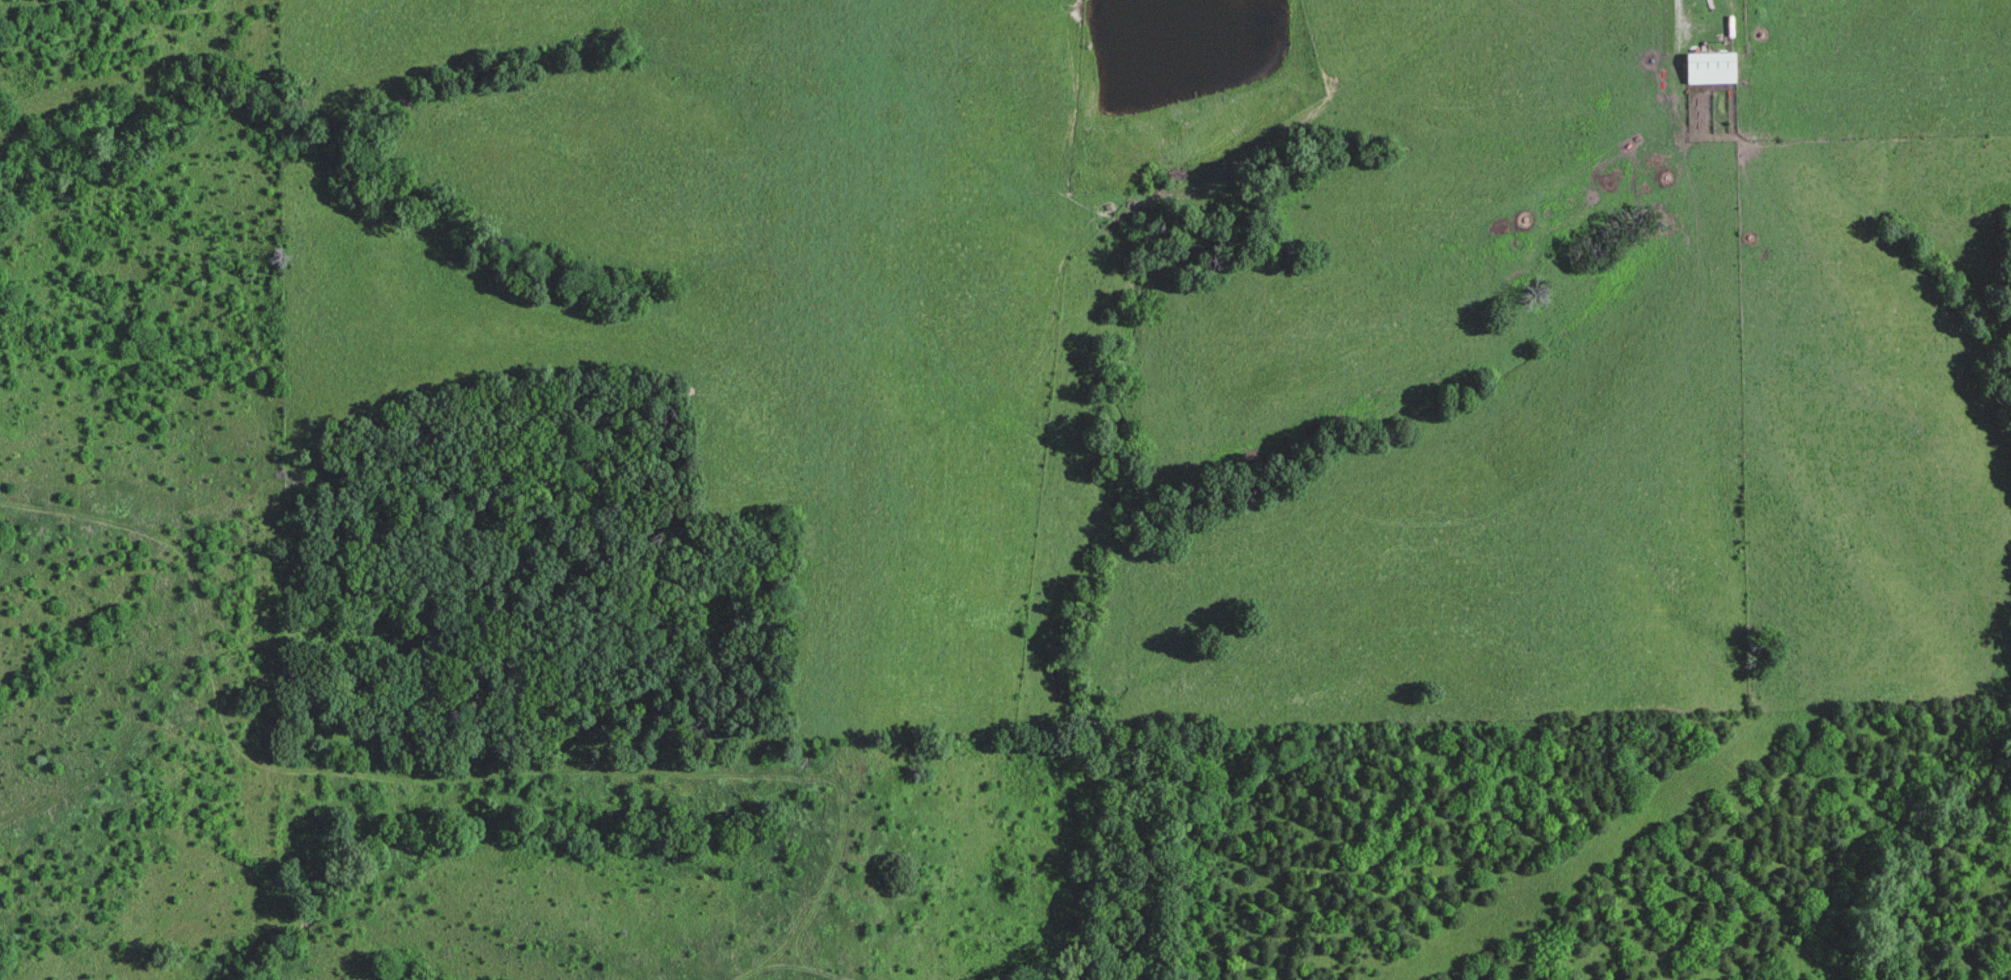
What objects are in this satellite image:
building: (1713, 68)

